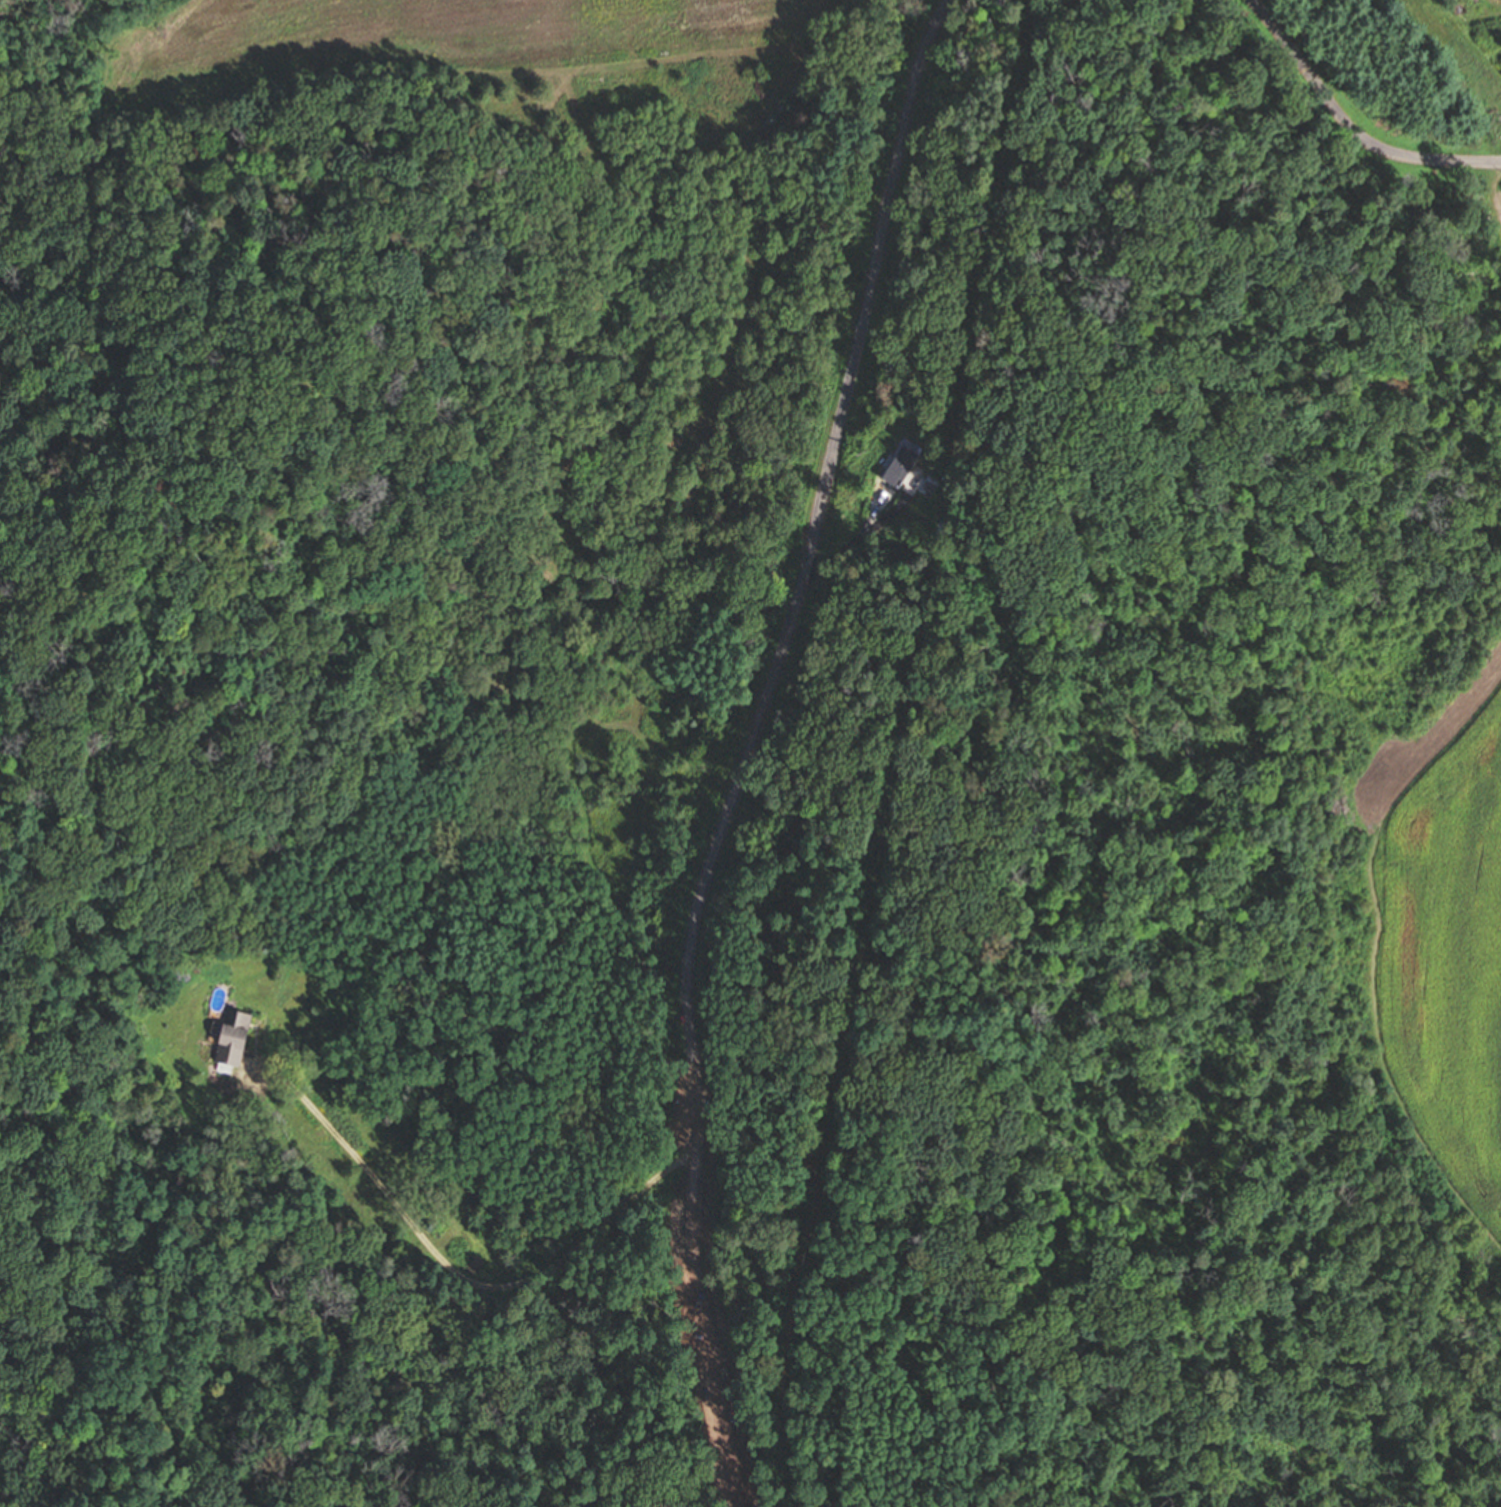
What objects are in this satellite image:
road: (1350, 126)
building: (898, 468)
building: (932, 484)
road: (852, 542)
road: (750, 745)
building: (232, 1037)
road: (455, 1275)

